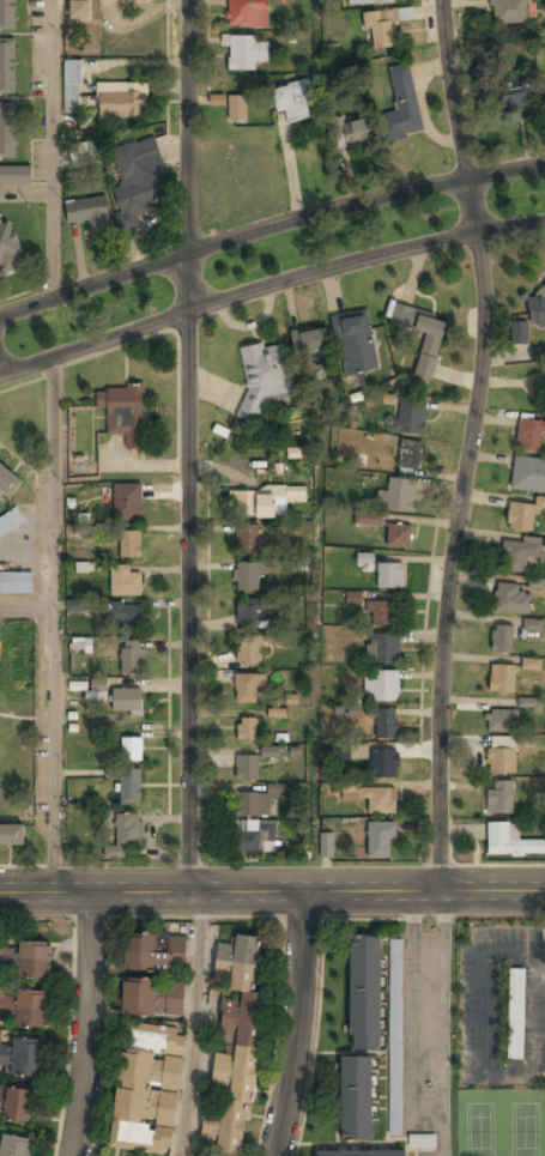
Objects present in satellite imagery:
building: (371, 2)
building: (78, 8)
building: (508, 12)
building: (247, 13)
building: (7, 14)
building: (382, 28)
building: (246, 53)
building: (7, 66)
building: (71, 86)
building: (544, 87)
building: (515, 91)
building: (216, 99)
building: (121, 101)
building: (293, 102)
building: (402, 104)
building: (236, 108)
building: (8, 129)
building: (353, 132)
road: (53, 149)
building: (85, 152)
building: (14, 175)
building: (135, 180)
building: (89, 213)
road: (268, 226)
building: (8, 247)
road: (270, 288)
building: (537, 311)
building: (519, 334)
building: (310, 340)
building: (355, 343)
building: (429, 355)
building: (264, 375)
building: (123, 412)
building: (410, 417)
building: (531, 434)
road: (470, 444)
road: (188, 446)
building: (408, 454)
building: (528, 474)
building: (8, 480)
building: (396, 495)
building: (262, 501)
building: (127, 502)
building: (521, 516)
building: (368, 518)
building: (11, 521)
building: (399, 534)
building: (246, 539)
building: (129, 544)
building: (519, 555)
building: (390, 574)
building: (247, 576)
building: (126, 581)
building: (17, 582)
building: (513, 600)
building: (75, 605)
road: (28, 607)
building: (250, 612)
building: (125, 615)
building: (382, 615)
road: (55, 624)
building: (532, 625)
building: (502, 638)
building: (80, 644)
building: (382, 648)
building: (249, 652)
building: (131, 656)
building: (531, 665)
building: (502, 678)
building: (381, 685)
building: (247, 688)
building: (126, 701)
building: (529, 703)
building: (501, 721)
building: (386, 724)
building: (247, 728)
building: (132, 749)
building: (339, 751)
building: (270, 752)
building: (502, 756)
building: (382, 763)
building: (247, 768)
building: (129, 787)
building: (498, 797)
building: (373, 799)
building: (253, 805)
building: (12, 835)
building: (126, 835)
building: (256, 836)
building: (380, 840)
building: (510, 842)
building: (326, 846)
road: (272, 891)
building: (155, 954)
building: (25, 961)
building: (364, 993)
building: (152, 998)
building: (22, 1007)
building: (515, 1013)
road: (84, 1024)
road: (194, 1024)
road: (299, 1024)
building: (394, 1037)
building: (236, 1053)
building: (20, 1057)
building: (147, 1089)
building: (356, 1098)
building: (17, 1104)
building: (420, 1140)
building: (16, 1146)
building: (361, 1154)

